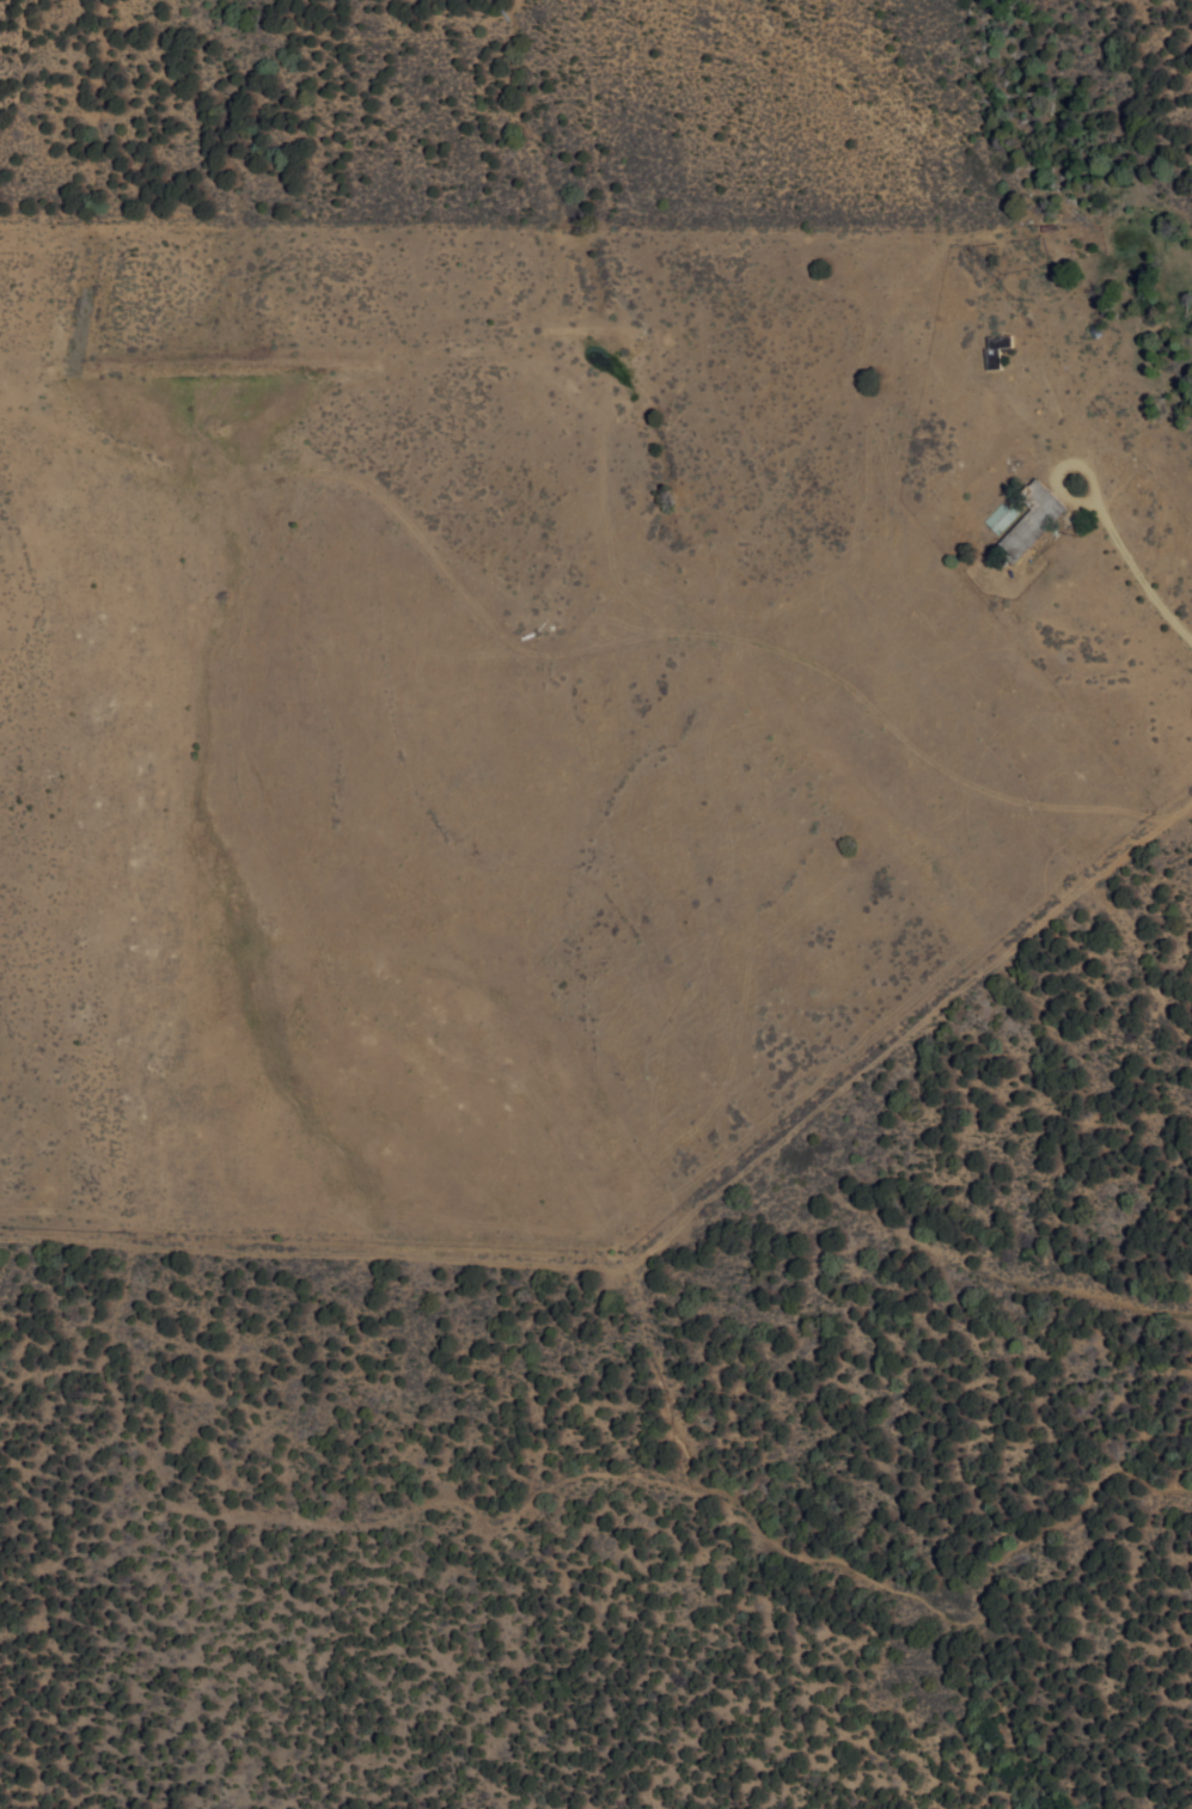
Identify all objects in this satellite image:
building: (1029, 518)
road: (667, 1232)

